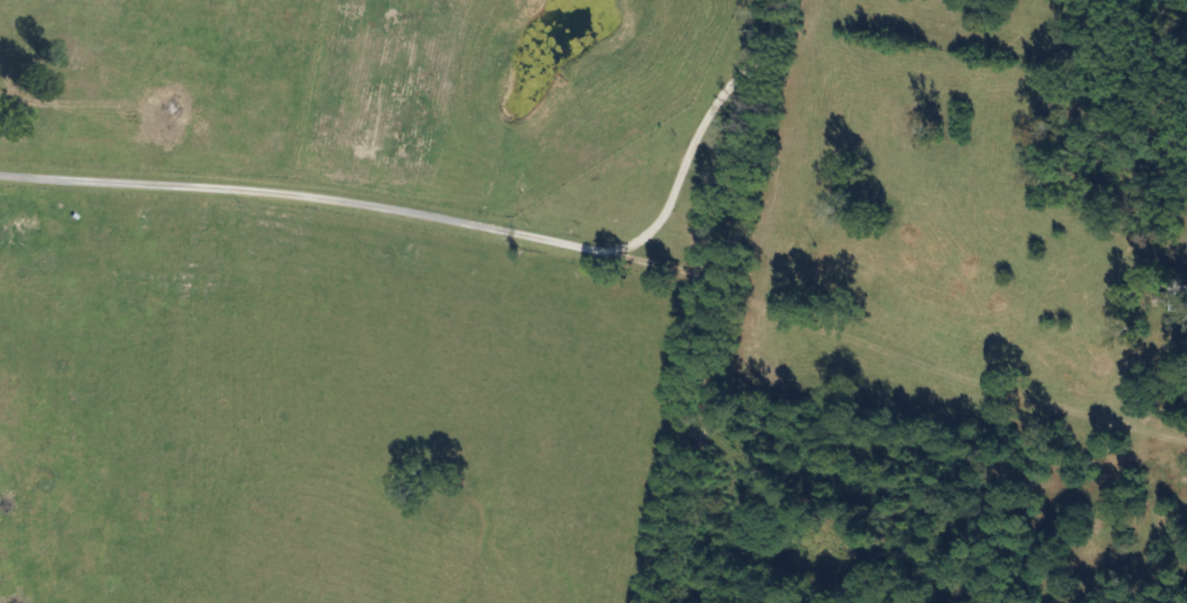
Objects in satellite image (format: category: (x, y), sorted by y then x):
road: (739, 301)

